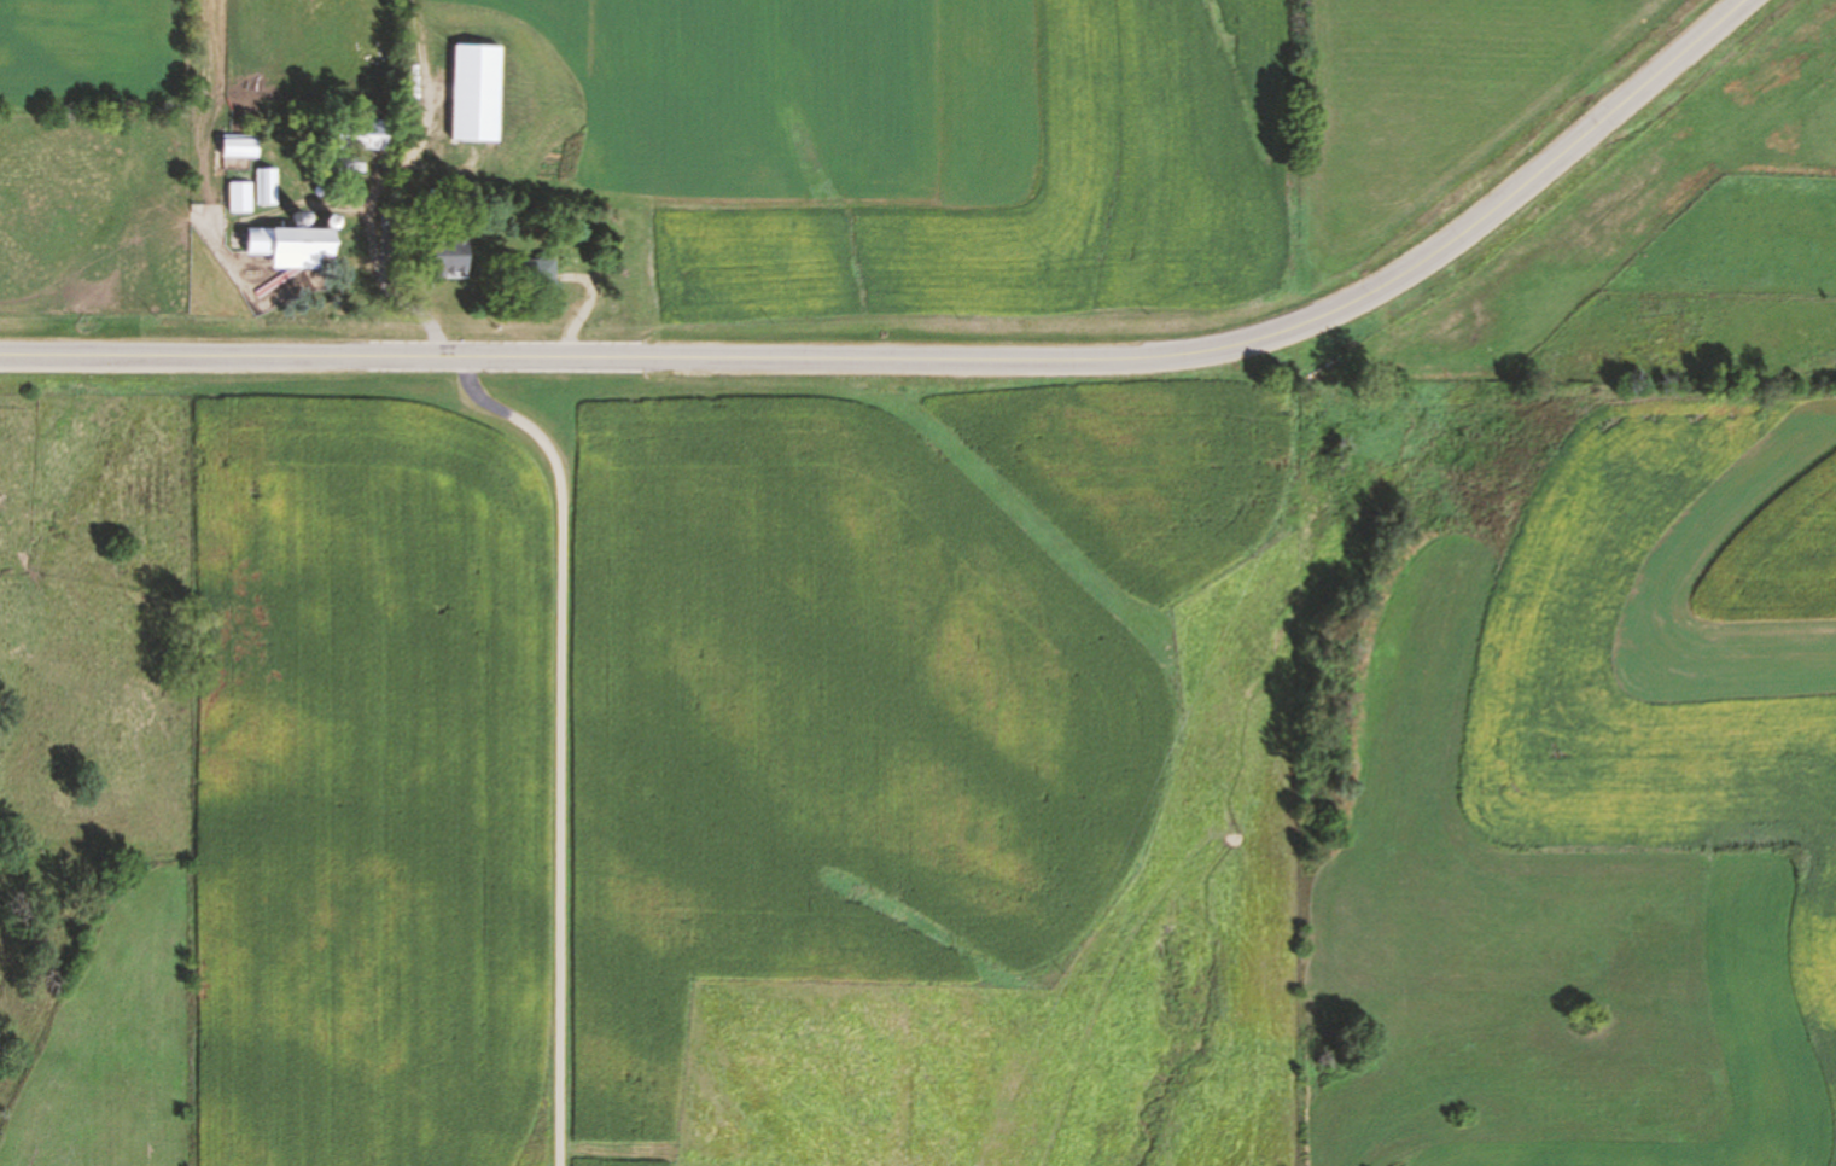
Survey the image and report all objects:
building: (478, 93)
building: (365, 136)
building: (241, 146)
building: (350, 164)
building: (268, 186)
building: (241, 197)
building: (291, 241)
building: (450, 257)
building: (534, 273)
road: (933, 358)
road: (564, 739)

